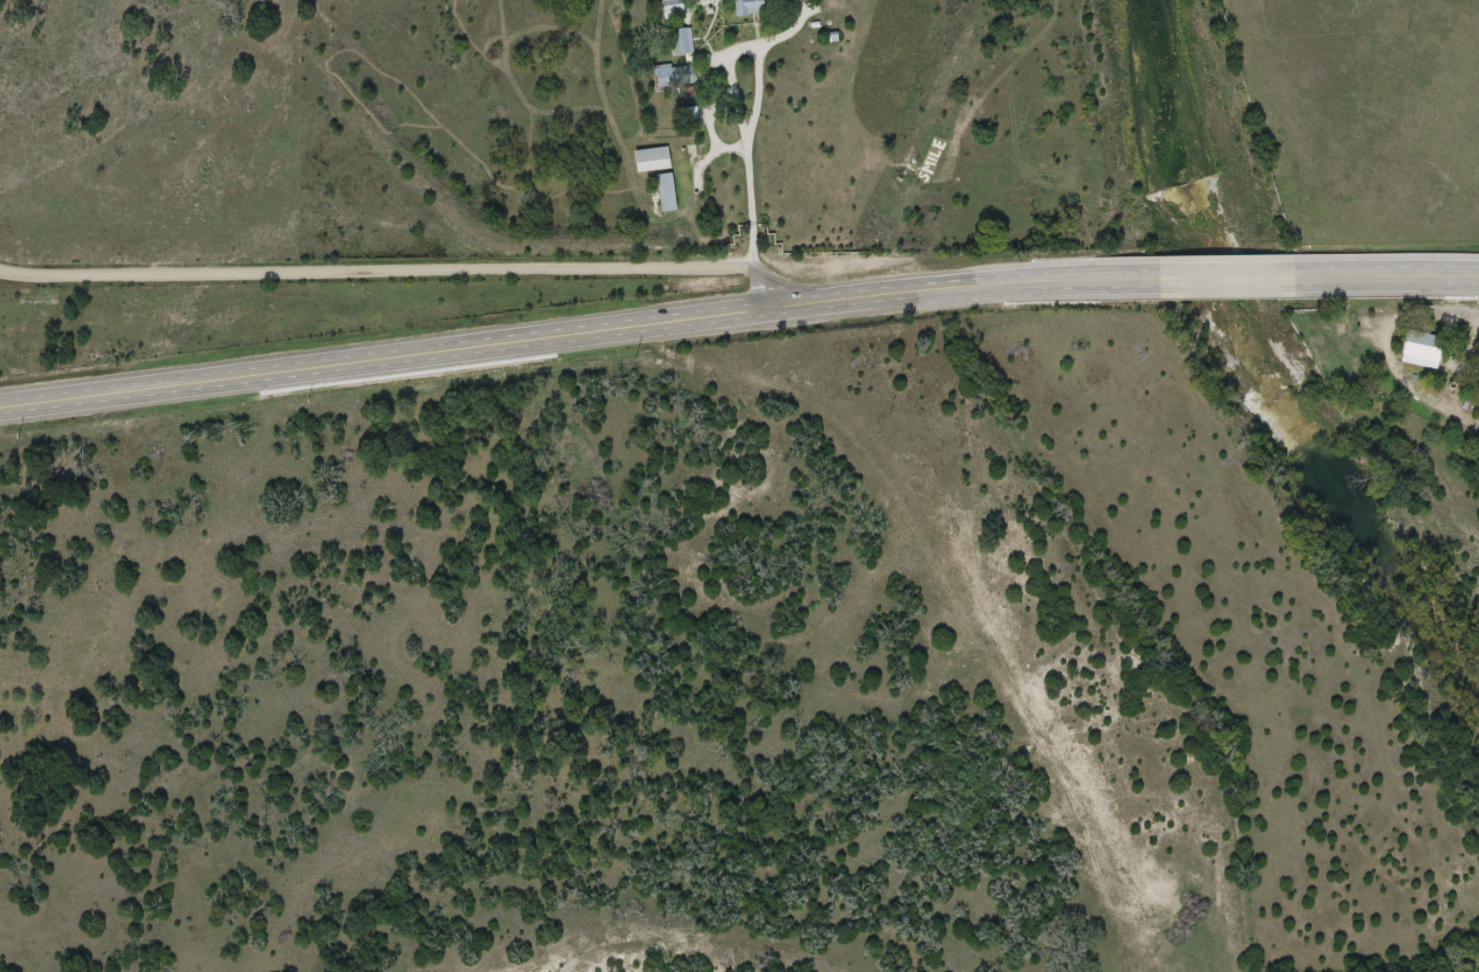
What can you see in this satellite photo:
building: (754, 7)
building: (674, 10)
building: (684, 42)
building: (675, 78)
building: (653, 161)
building: (667, 194)
road: (131, 259)
road: (401, 273)
road: (737, 319)
building: (1425, 348)

